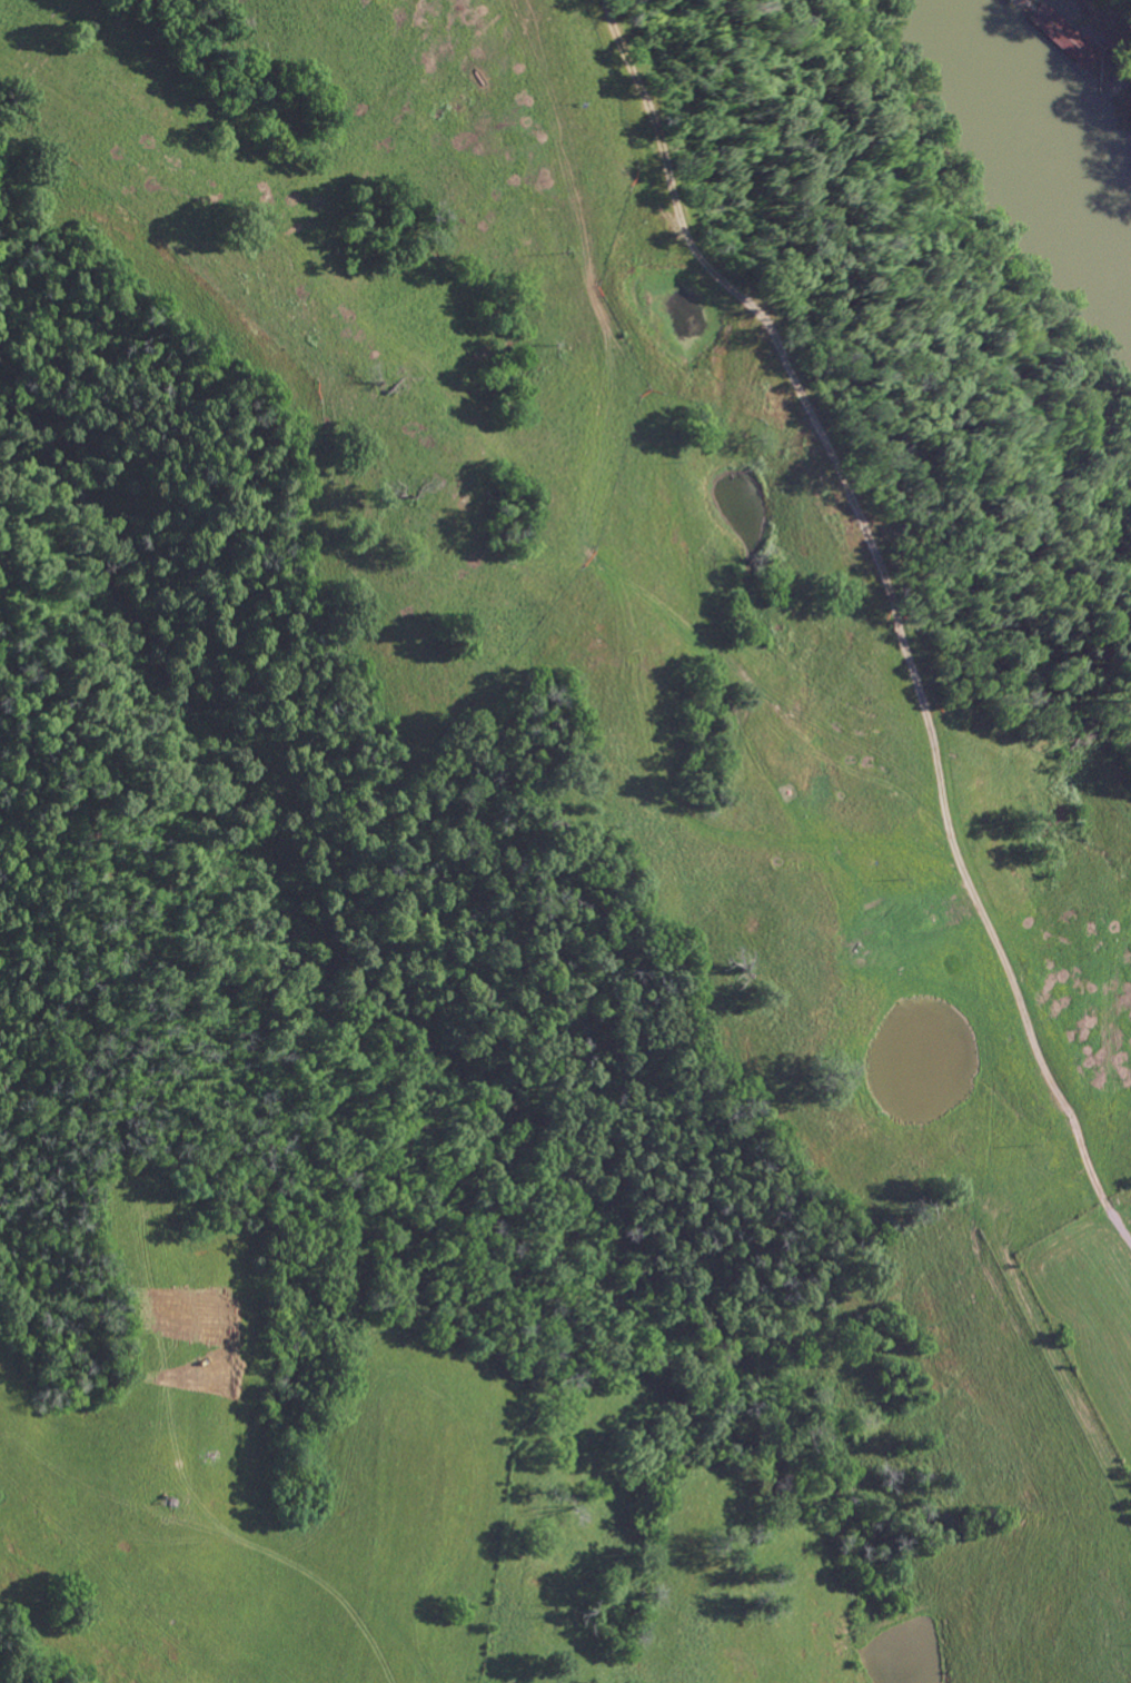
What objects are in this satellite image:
river: (1084, 86)

